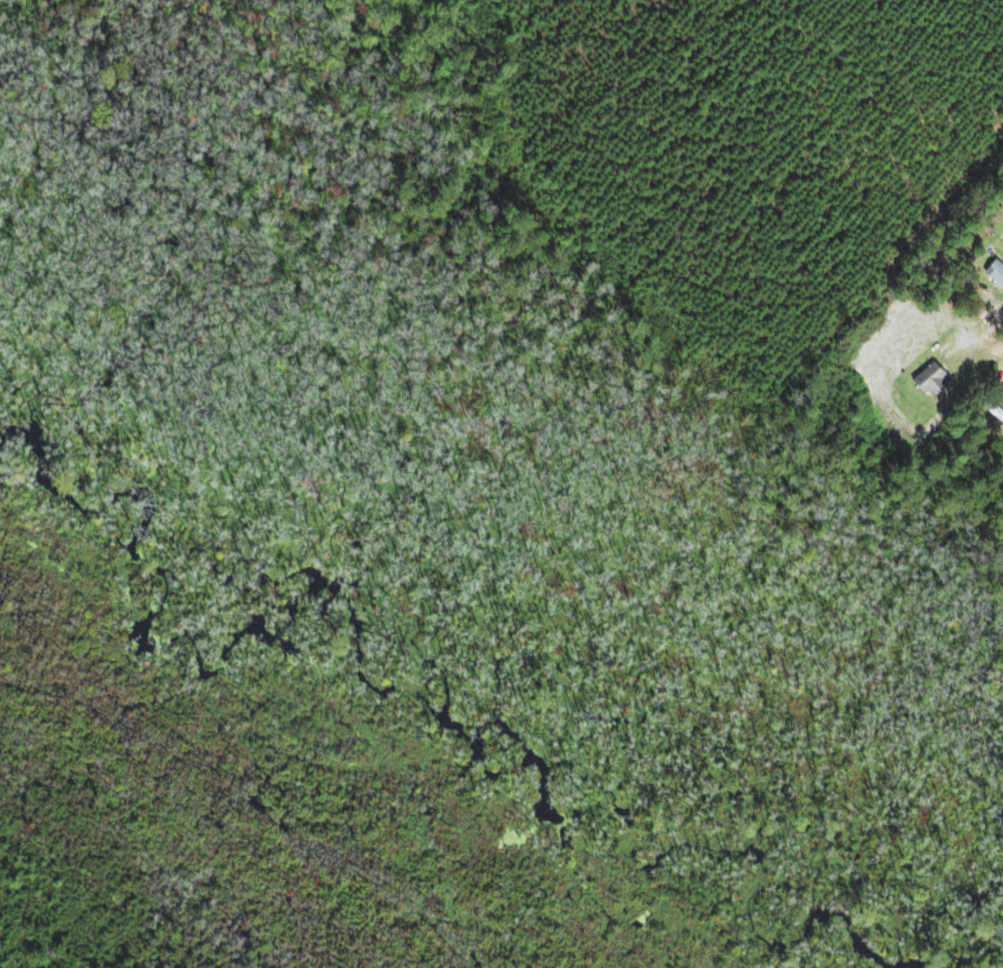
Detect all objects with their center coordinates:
building: (994, 274)
building: (929, 380)

